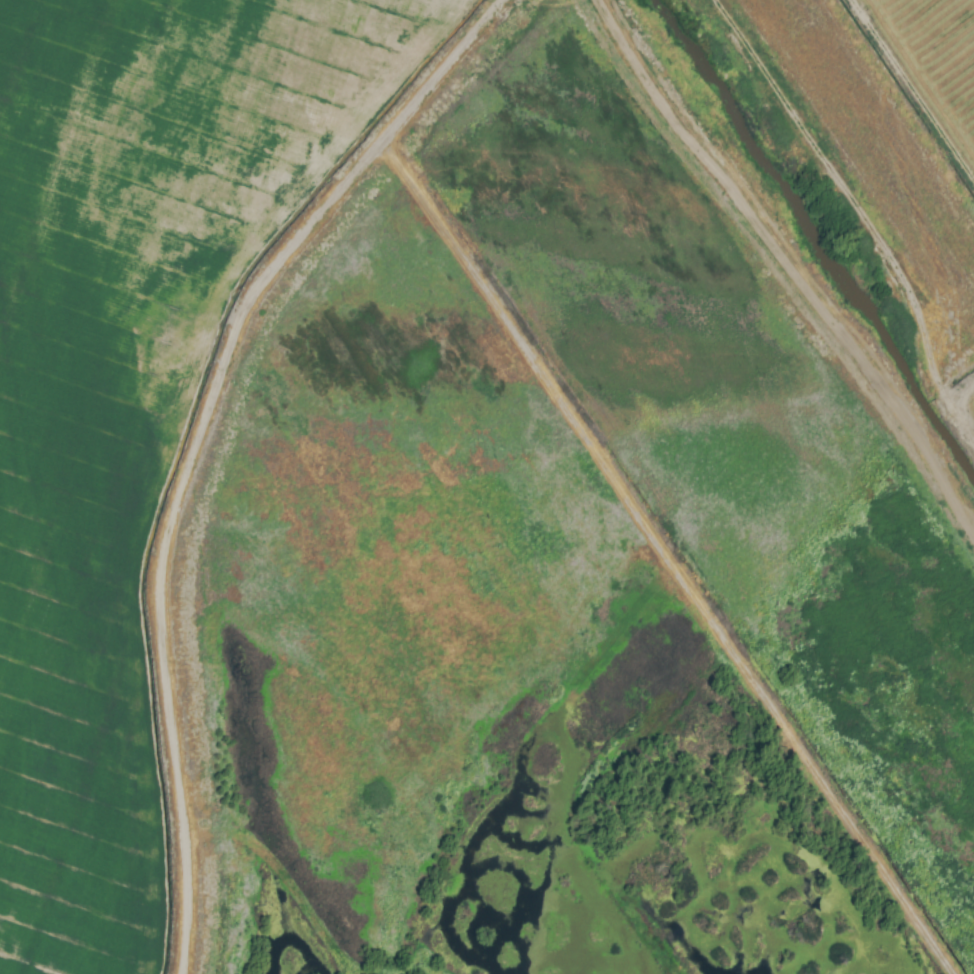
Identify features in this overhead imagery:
crop: (487, 487)

